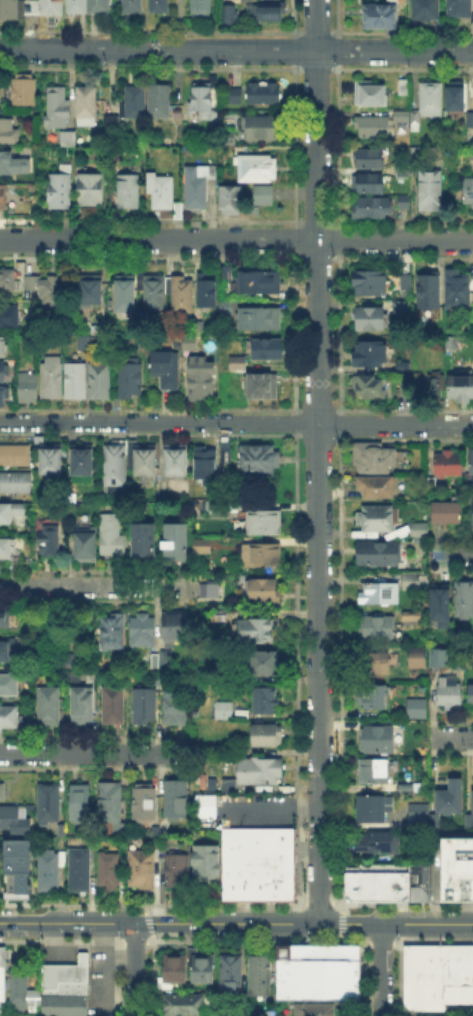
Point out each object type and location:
building: (160, 6)
building: (52, 7)
building: (77, 7)
building: (100, 7)
building: (132, 7)
building: (201, 7)
building: (32, 8)
building: (459, 9)
building: (9, 10)
building: (426, 10)
building: (227, 12)
building: (269, 13)
building: (380, 17)
road: (236, 51)
building: (406, 87)
building: (24, 91)
building: (260, 92)
building: (231, 94)
building: (371, 95)
building: (457, 98)
building: (160, 103)
building: (200, 103)
building: (134, 104)
building: (424, 106)
building: (88, 107)
building: (59, 108)
building: (180, 116)
building: (471, 120)
building: (112, 124)
building: (263, 128)
building: (373, 128)
building: (9, 133)
building: (227, 139)
building: (69, 144)
building: (416, 156)
building: (370, 160)
building: (10, 165)
building: (258, 169)
building: (403, 175)
building: (370, 183)
building: (199, 187)
building: (125, 190)
building: (91, 191)
building: (61, 192)
building: (431, 192)
building: (160, 193)
building: (469, 193)
building: (264, 196)
building: (3, 197)
building: (227, 198)
building: (405, 202)
building: (372, 208)
road: (236, 240)
building: (226, 276)
building: (8, 280)
building: (402, 281)
building: (260, 283)
building: (371, 284)
building: (459, 290)
building: (47, 291)
building: (429, 291)
building: (91, 292)
building: (155, 292)
building: (127, 294)
building: (208, 294)
building: (183, 297)
building: (403, 303)
building: (227, 308)
building: (10, 316)
building: (260, 320)
building: (371, 320)
building: (198, 329)
building: (91, 341)
building: (190, 344)
building: (452, 344)
building: (3, 348)
building: (269, 351)
building: (372, 354)
building: (238, 364)
building: (404, 366)
building: (166, 370)
building: (2, 372)
building: (54, 378)
building: (402, 379)
building: (77, 380)
building: (101, 381)
building: (131, 381)
building: (202, 381)
building: (412, 381)
building: (436, 386)
building: (261, 387)
building: (29, 388)
building: (368, 388)
building: (461, 388)
building: (4, 397)
road: (236, 423)
building: (226, 455)
building: (16, 457)
building: (374, 458)
building: (52, 459)
building: (84, 460)
building: (177, 461)
building: (259, 461)
road: (316, 461)
building: (147, 462)
building: (205, 464)
building: (472, 464)
building: (449, 465)
building: (115, 466)
building: (15, 482)
building: (378, 489)
building: (212, 508)
building: (471, 511)
building: (447, 513)
building: (9, 520)
building: (379, 520)
building: (264, 524)
building: (420, 532)
building: (112, 536)
building: (144, 539)
building: (176, 541)
building: (50, 542)
building: (87, 545)
building: (202, 547)
building: (8, 549)
road: (451, 553)
building: (379, 555)
building: (267, 556)
building: (412, 582)
road: (94, 585)
building: (210, 591)
building: (264, 591)
building: (382, 595)
building: (464, 600)
building: (442, 604)
building: (5, 616)
building: (171, 627)
building: (377, 629)
building: (144, 630)
building: (254, 630)
building: (112, 632)
building: (5, 651)
building: (419, 659)
building: (155, 662)
building: (269, 663)
building: (375, 665)
building: (434, 671)
building: (9, 686)
building: (450, 690)
building: (374, 698)
building: (471, 698)
building: (266, 701)
building: (114, 705)
building: (49, 706)
building: (145, 706)
building: (176, 706)
building: (83, 707)
building: (418, 709)
building: (223, 711)
building: (9, 718)
road: (451, 734)
building: (270, 736)
building: (380, 740)
road: (95, 753)
building: (255, 768)
building: (374, 772)
building: (209, 782)
building: (227, 784)
building: (2, 792)
building: (173, 796)
building: (453, 798)
building: (471, 800)
building: (81, 803)
building: (145, 803)
building: (49, 805)
road: (259, 805)
building: (113, 808)
parking lot: (241, 810)
building: (374, 810)
building: (420, 818)
building: (10, 819)
building: (436, 820)
building: (469, 820)
building: (380, 843)
building: (255, 844)
building: (203, 860)
building: (47, 866)
building: (140, 866)
building: (106, 867)
building: (15, 868)
building: (77, 868)
building: (456, 868)
building: (174, 869)
building: (375, 873)
building: (229, 881)
building: (247, 881)
building: (274, 881)
building: (358, 890)
building: (383, 890)
building: (393, 890)
building: (403, 890)
building: (417, 892)
road: (236, 923)
building: (301, 957)
building: (324, 957)
building: (347, 957)
building: (412, 964)
building: (438, 964)
building: (458, 964)
building: (468, 964)
building: (199, 965)
road: (134, 969)
building: (170, 969)
road: (380, 969)
building: (1, 972)
building: (229, 974)
building: (257, 974)
building: (311, 980)
building: (63, 988)
building: (20, 990)
building: (434, 995)
building: (184, 1003)
building: (312, 1008)

